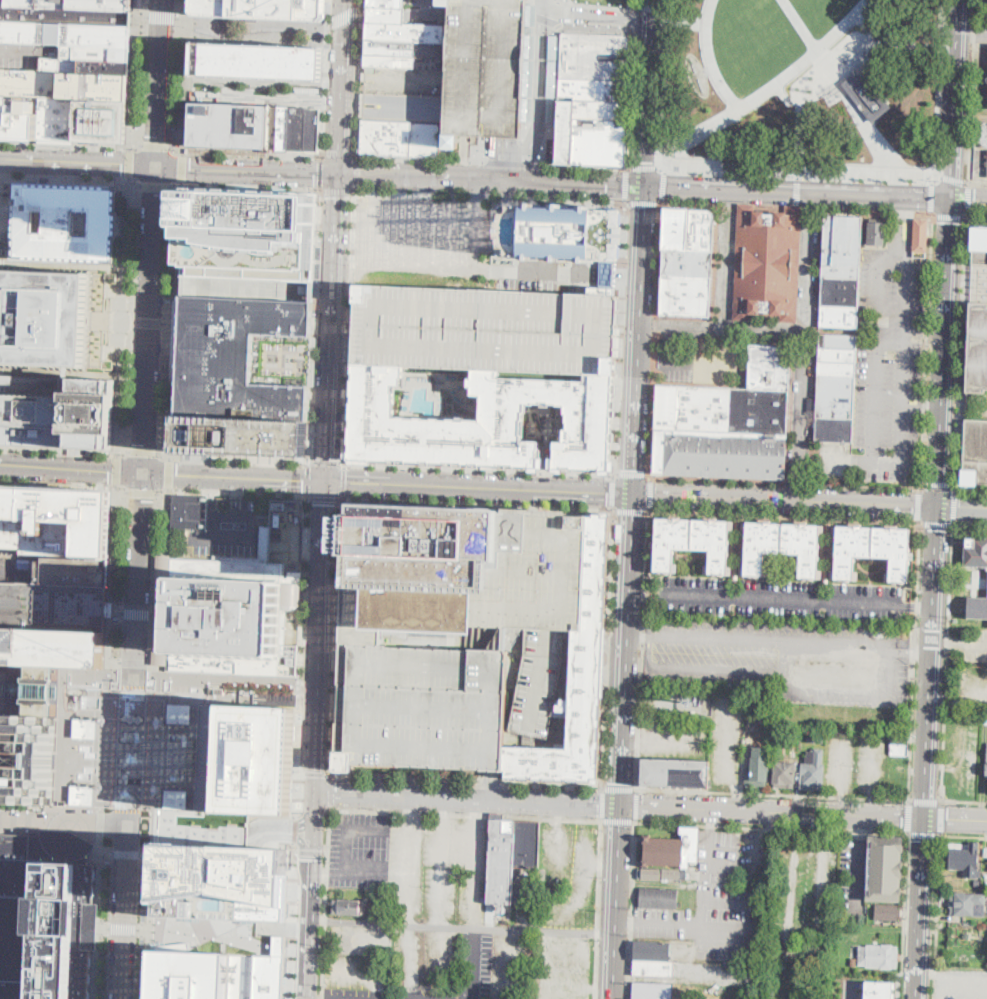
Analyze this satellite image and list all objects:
building: (73, 4)
road: (490, 4)
road: (597, 4)
road: (634, 4)
building: (985, 4)
road: (526, 5)
road: (541, 8)
building: (263, 9)
road: (508, 9)
road: (510, 9)
road: (426, 12)
building: (65, 15)
road: (597, 15)
road: (345, 16)
road: (142, 17)
road: (542, 17)
road: (161, 18)
road: (633, 18)
road: (182, 19)
road: (690, 22)
road: (509, 28)
road: (649, 28)
parking lot: (985, 29)
road: (668, 30)
building: (30, 31)
road: (257, 31)
road: (974, 32)
building: (96, 34)
building: (398, 36)
road: (869, 42)
fountain: (853, 49)
building: (96, 52)
road: (710, 57)
road: (555, 58)
building: (257, 62)
building: (89, 66)
building: (485, 69)
parking lot: (485, 69)
road: (523, 72)
road: (134, 75)
building: (985, 76)
road: (185, 77)
road: (359, 78)
road: (326, 80)
road: (669, 82)
road: (773, 82)
building: (29, 83)
road: (160, 83)
building: (74, 85)
road: (486, 85)
road: (842, 85)
building: (109, 86)
park: (805, 86)
road: (343, 87)
road: (507, 87)
road: (971, 91)
road: (936, 92)
road: (255, 93)
road: (649, 93)
building: (591, 96)
building: (866, 96)
road: (630, 98)
road: (957, 100)
road: (539, 104)
road: (394, 107)
building: (19, 116)
building: (56, 118)
building: (101, 119)
road: (800, 122)
building: (229, 125)
building: (271, 127)
building: (283, 127)
building: (297, 128)
building: (311, 129)
building: (981, 134)
building: (385, 136)
building: (424, 138)
road: (70, 144)
road: (154, 146)
road: (244, 150)
road: (339, 154)
road: (419, 159)
road: (471, 159)
road: (504, 159)
traffic signals: (646, 160)
road: (78, 163)
road: (131, 163)
road: (509, 163)
traffic signals: (157, 166)
road: (582, 166)
road: (646, 166)
road: (182, 167)
road: (803, 168)
road: (248, 171)
road: (357, 172)
traffic signals: (315, 174)
road: (321, 175)
traffic signals: (362, 177)
road: (422, 179)
road: (953, 179)
road: (71, 182)
road: (663, 183)
road: (977, 183)
road: (574, 185)
road: (626, 185)
road: (155, 186)
traffic signals: (620, 187)
road: (244, 188)
road: (478, 189)
traffic signals: (678, 189)
road: (336, 191)
road: (797, 193)
road: (798, 195)
traffic signals: (340, 196)
road: (488, 196)
road: (967, 196)
road: (931, 198)
traffic signals: (919, 199)
road: (643, 202)
road: (969, 202)
traffic signals: (975, 202)
road: (800, 208)
road: (951, 216)
road: (976, 217)
road: (897, 221)
building: (64, 222)
traffic signals: (951, 222)
building: (675, 228)
building: (700, 229)
building: (559, 231)
building: (877, 232)
building: (920, 233)
parking lot: (429, 240)
building: (828, 240)
building: (847, 241)
building: (248, 245)
building: (979, 245)
road: (384, 250)
park: (246, 254)
road: (658, 259)
road: (729, 259)
building: (687, 262)
road: (809, 262)
road: (69, 263)
building: (768, 263)
building: (840, 271)
road: (573, 274)
building: (608, 274)
road: (573, 284)
building: (840, 291)
building: (686, 294)
road: (628, 310)
road: (124, 315)
building: (839, 316)
building: (43, 318)
road: (176, 318)
building: (97, 319)
road: (150, 319)
park: (112, 320)
road: (149, 322)
road: (655, 323)
road: (348, 325)
road: (314, 327)
road: (722, 327)
road: (333, 328)
building: (486, 328)
parking lot: (486, 328)
road: (866, 332)
road: (619, 338)
road: (342, 340)
building: (838, 340)
road: (638, 341)
road: (960, 349)
building: (978, 349)
road: (877, 350)
road: (924, 352)
road: (943, 352)
building: (837, 353)
building: (236, 358)
park: (281, 360)
road: (665, 362)
parking lot: (676, 365)
building: (769, 366)
building: (837, 367)
road: (63, 372)
parking lot: (884, 373)
road: (901, 385)
building: (836, 395)
road: (651, 403)
building: (667, 405)
road: (804, 406)
road: (921, 406)
building: (704, 407)
building: (759, 409)
building: (56, 412)
building: (484, 421)
fountain: (546, 422)
building: (835, 428)
park: (545, 429)
building: (241, 435)
road: (143, 450)
road: (64, 451)
building: (720, 452)
building: (975, 452)
road: (232, 459)
road: (325, 463)
road: (72, 469)
road: (478, 469)
traffic signals: (633, 469)
road: (117, 470)
road: (168, 473)
traffic signals: (144, 474)
road: (632, 475)
road: (235, 477)
road: (308, 480)
road: (725, 480)
traffic signals: (303, 481)
road: (922, 481)
road: (343, 482)
road: (939, 482)
traffic signals: (347, 483)
road: (64, 484)
road: (860, 485)
road: (479, 488)
road: (140, 490)
road: (970, 490)
road: (800, 491)
road: (613, 492)
traffic signals: (608, 493)
road: (648, 493)
road: (230, 494)
traffic signals: (656, 495)
road: (785, 498)
road: (324, 499)
road: (236, 501)
traffic signals: (327, 504)
traffic signals: (914, 504)
road: (918, 504)
building: (278, 505)
road: (477, 505)
traffic signals: (960, 506)
road: (962, 506)
road: (213, 507)
road: (954, 507)
road: (630, 509)
building: (190, 512)
road: (783, 513)
building: (55, 520)
road: (938, 523)
road: (970, 523)
building: (738, 525)
park: (474, 528)
building: (829, 529)
traffic signals: (938, 529)
fountain: (483, 531)
parking lot: (229, 532)
road: (218, 536)
building: (693, 543)
building: (783, 547)
building: (873, 551)
building: (976, 551)
building: (986, 568)
building: (72, 569)
building: (736, 571)
building: (471, 574)
parking lot: (471, 574)
building: (826, 576)
building: (291, 589)
road: (645, 593)
road: (332, 597)
parking lot: (780, 598)
road: (782, 599)
road: (918, 606)
building: (976, 606)
building: (162, 608)
road: (117, 612)
road: (136, 613)
road: (155, 614)
building: (225, 617)
building: (53, 624)
fountain: (357, 627)
road: (321, 637)
road: (336, 638)
road: (861, 642)
road: (942, 643)
parking lot: (969, 643)
road: (969, 643)
road: (109, 647)
road: (608, 647)
road: (649, 648)
road: (642, 649)
road: (626, 650)
road: (911, 650)
road: (914, 656)
parking lot: (784, 658)
road: (299, 659)
road: (946, 661)
road: (932, 662)
road: (133, 663)
road: (514, 669)
road: (715, 669)
road: (541, 670)
road: (566, 671)
road: (586, 671)
road: (613, 673)
road: (228, 678)
building: (538, 680)
parking lot: (538, 680)
parking lot: (968, 681)
building: (576, 682)
road: (940, 683)
road: (968, 683)
road: (54, 688)
building: (53, 690)
building: (420, 706)
parking lot: (420, 706)
building: (179, 712)
building: (984, 718)
building: (84, 727)
road: (131, 736)
building: (815, 737)
road: (663, 738)
parking lot: (675, 740)
building: (790, 740)
parking lot: (726, 741)
building: (29, 743)
road: (154, 745)
building: (899, 745)
road: (129, 746)
park: (129, 747)
road: (962, 752)
fountain: (169, 756)
parking lot: (961, 756)
road: (728, 758)
building: (250, 760)
building: (758, 762)
parking lot: (861, 764)
road: (937, 764)
road: (842, 766)
road: (870, 766)
building: (813, 771)
building: (986, 771)
road: (303, 773)
road: (318, 773)
building: (676, 773)
building: (785, 774)
road: (962, 778)
road: (466, 780)
traffic signals: (620, 782)
road: (488, 784)
road: (619, 786)
road: (331, 791)
road: (773, 792)
traffic signals: (337, 793)
building: (82, 794)
building: (175, 798)
road: (466, 798)
road: (925, 799)
road: (964, 801)
road: (601, 802)
road: (636, 804)
road: (841, 804)
traffic signals: (596, 805)
road: (870, 805)
road: (56, 806)
road: (71, 807)
traffic signals: (642, 807)
road: (447, 810)
road: (465, 812)
road: (771, 813)
road: (908, 816)
road: (25, 817)
road: (940, 817)
traffic signals: (902, 818)
road: (89, 819)
road: (617, 819)
traffic signals: (947, 820)
road: (955, 820)
road: (101, 821)
road: (292, 824)
traffic signals: (294, 825)
road: (770, 827)
road: (296, 831)
road: (923, 834)
road: (281, 835)
road: (963, 835)
road: (557, 836)
traffic signals: (925, 839)
building: (672, 849)
road: (124, 852)
road: (297, 852)
road: (312, 853)
parking lot: (365, 854)
building: (511, 856)
traffic signals: (311, 859)
building: (967, 861)
road: (474, 862)
road: (858, 864)
building: (885, 868)
parking lot: (444, 869)
road: (617, 869)
road: (445, 873)
road: (709, 873)
building: (663, 875)
parking lot: (561, 879)
building: (224, 882)
road: (730, 889)
road: (309, 895)
parking lot: (804, 895)
building: (658, 896)
road: (325, 902)
building: (967, 903)
parking lot: (711, 905)
building: (351, 907)
road: (596, 908)
road: (922, 908)
parking lot: (46, 909)
road: (631, 909)
parking lot: (216, 912)
building: (887, 912)
building: (45, 914)
road: (904, 916)
road: (97, 917)
road: (936, 917)
road: (297, 919)
road: (660, 921)
road: (461, 926)
road: (288, 927)
road: (103, 928)
road: (122, 929)
road: (139, 930)
road: (149, 930)
road: (262, 935)
road: (731, 935)
building: (967, 935)
building: (281, 945)
building: (684, 946)
road: (442, 948)
road: (291, 950)
road: (802, 950)
parking lot: (418, 955)
building: (878, 956)
building: (653, 959)
road: (412, 961)
building: (853, 961)
building: (561, 962)
road: (476, 963)
road: (511, 963)
road: (612, 965)
parking lot: (550, 967)
road: (370, 971)
building: (216, 975)
building: (881, 986)
building: (653, 990)
road: (852, 990)
building: (771, 991)
parking lot: (399, 994)
building: (880, 995)

